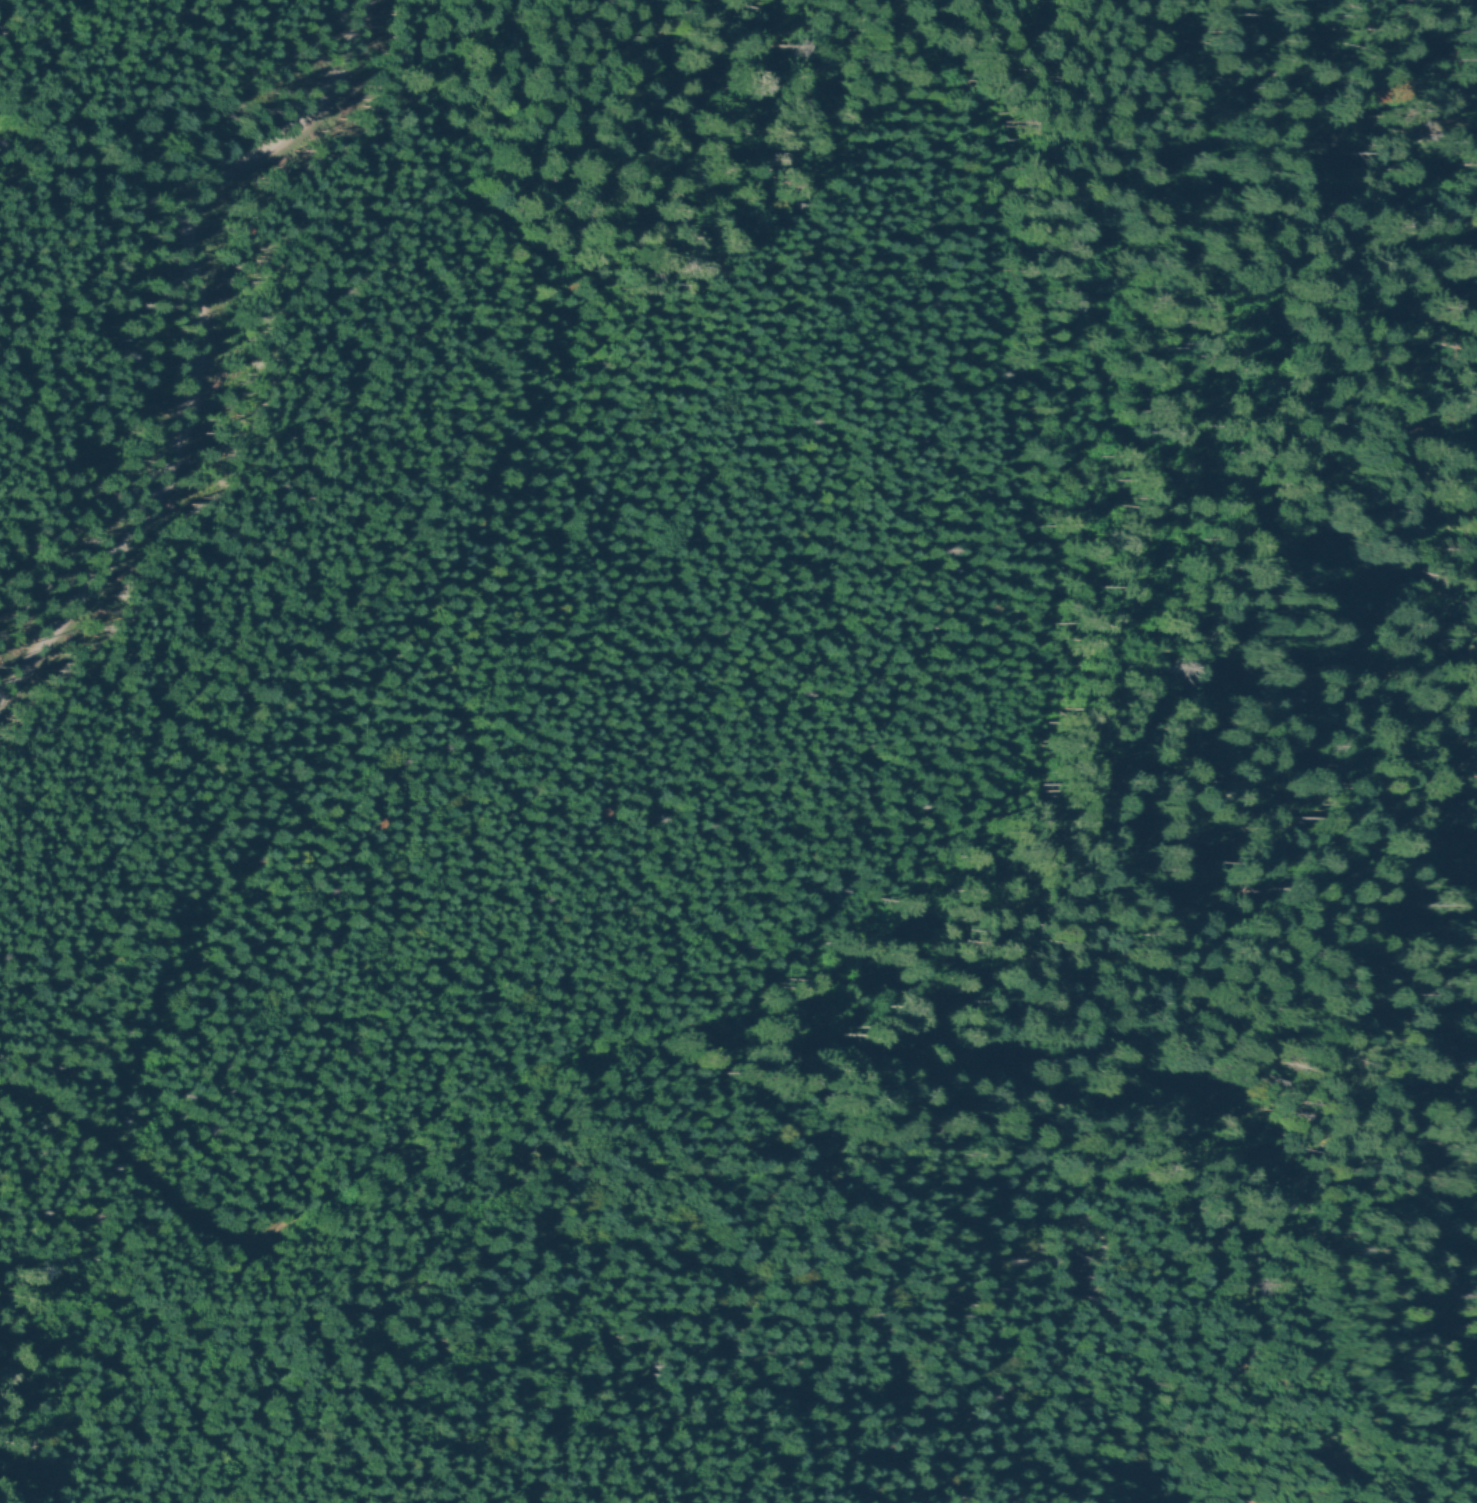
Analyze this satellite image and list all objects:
road: (199, 355)
road: (347, 1179)

